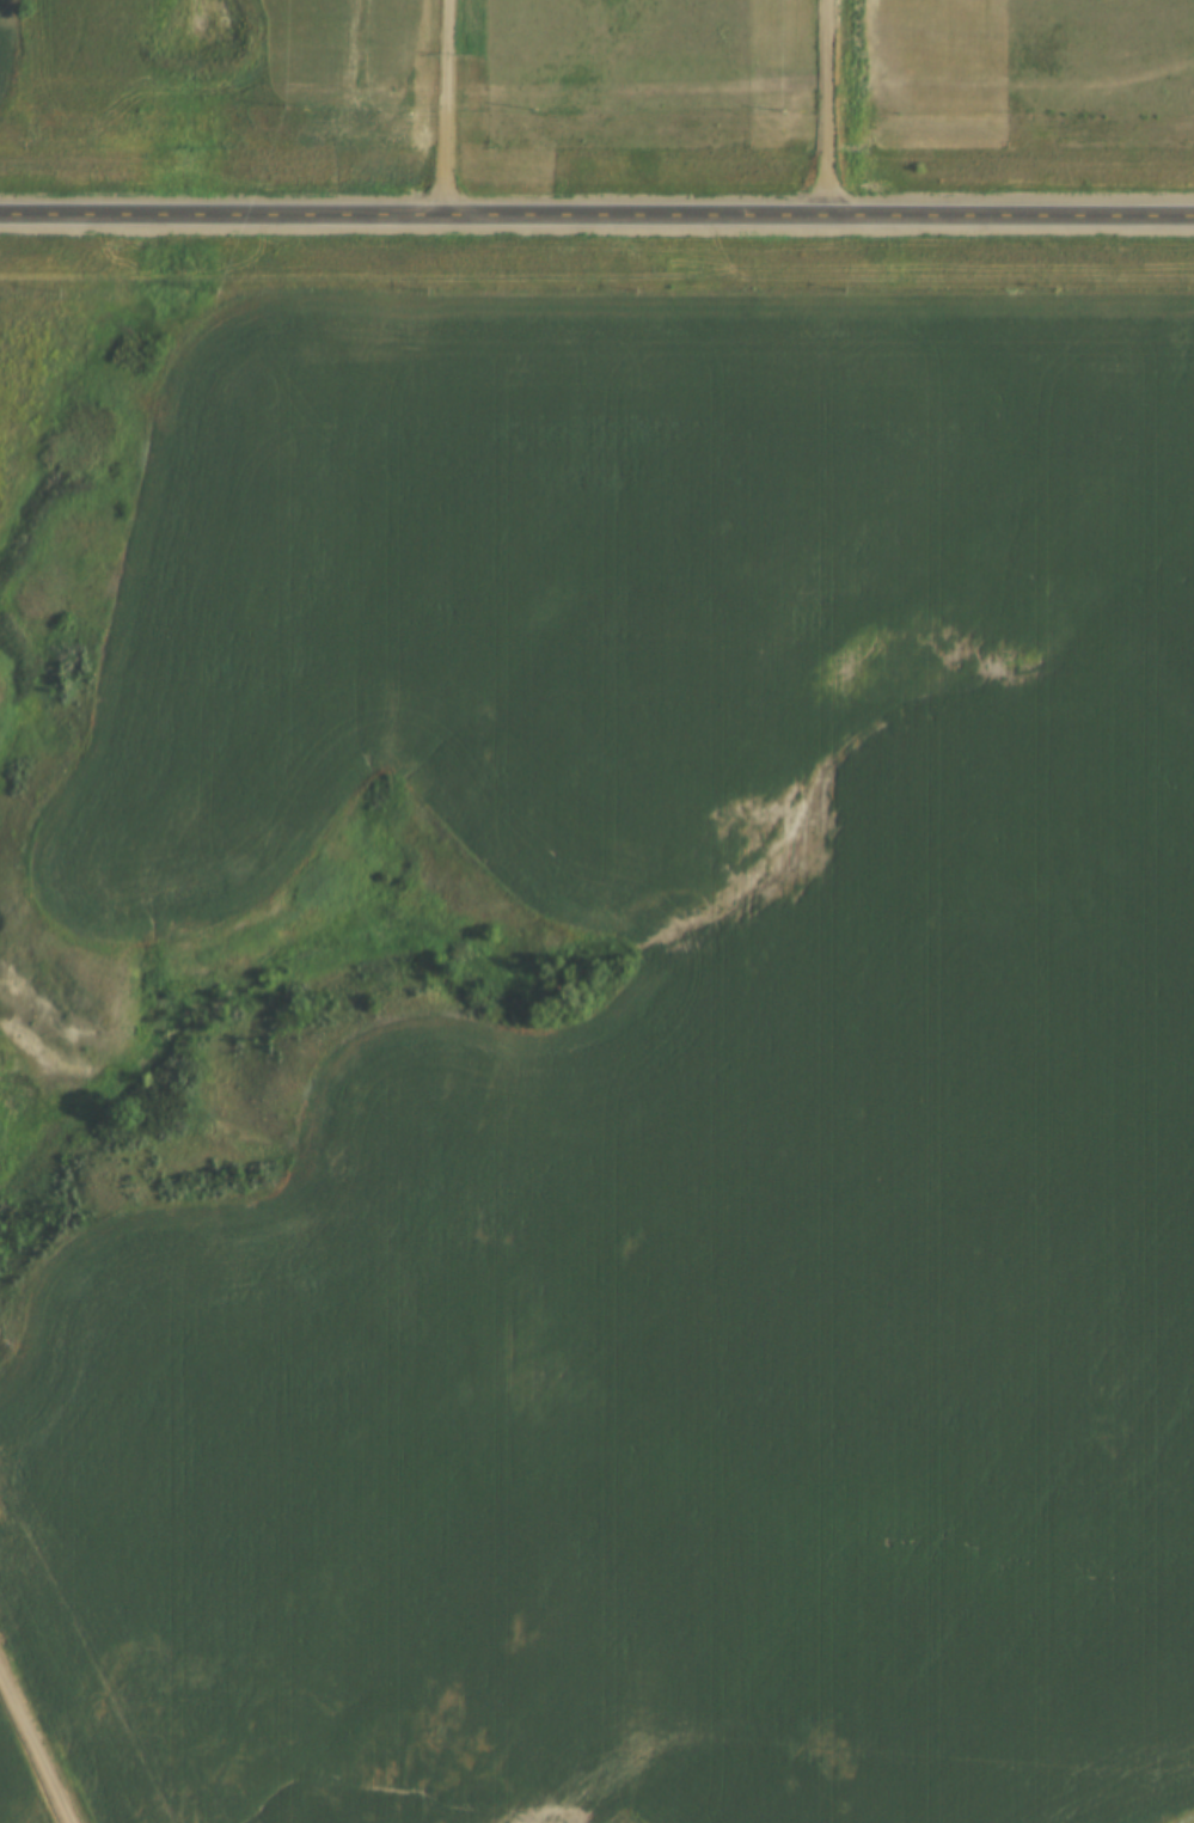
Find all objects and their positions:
road: (596, 218)
road: (38, 1739)

